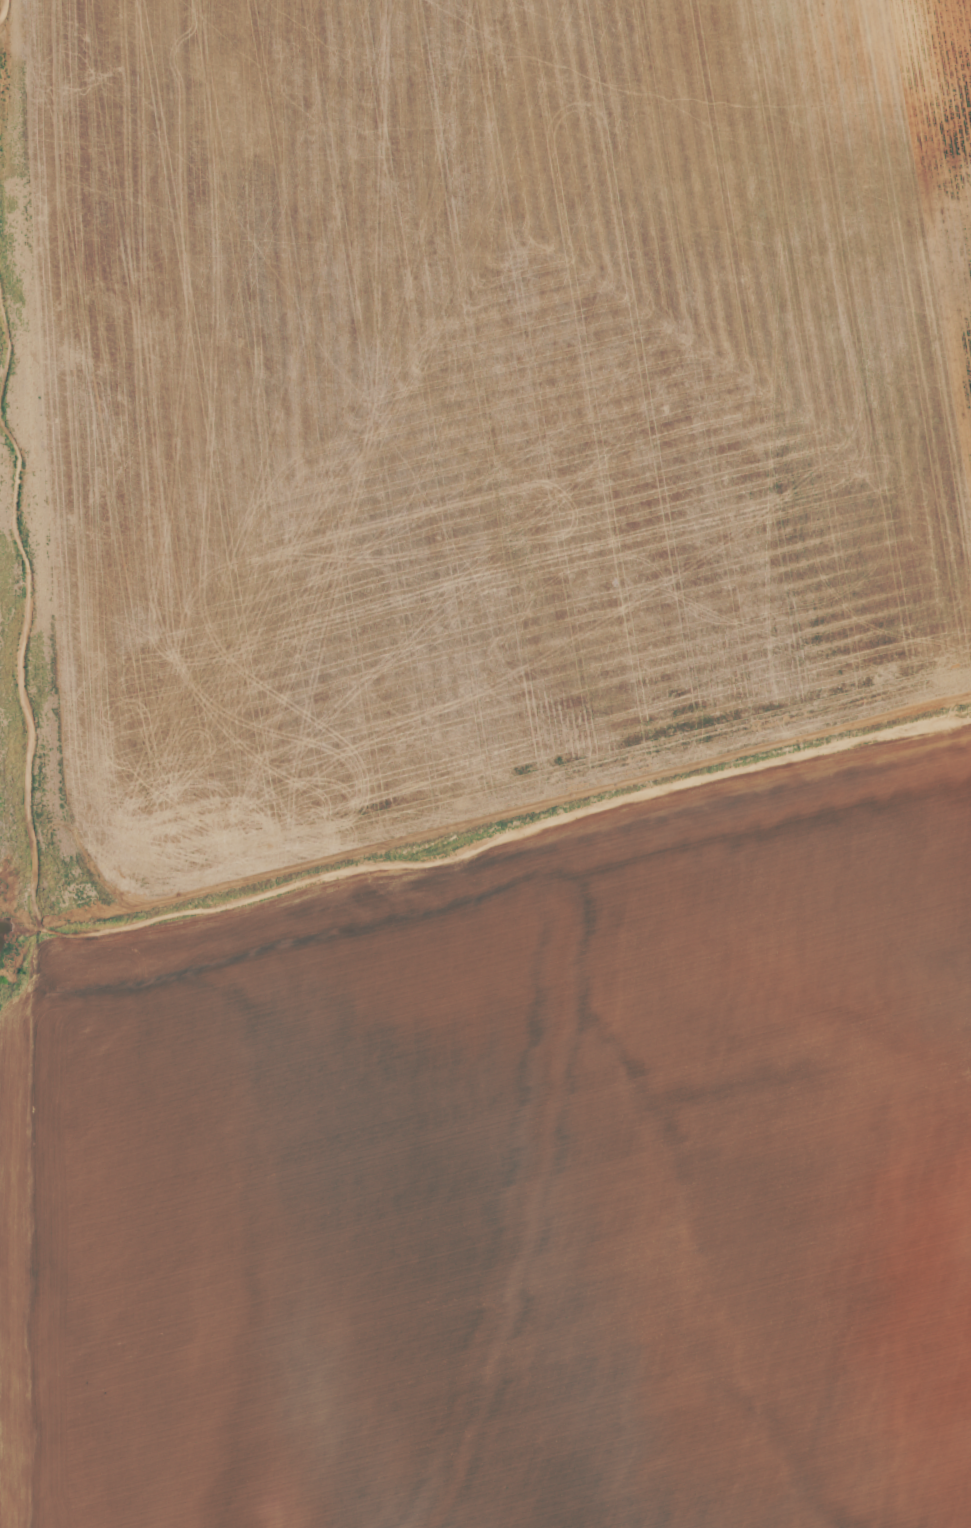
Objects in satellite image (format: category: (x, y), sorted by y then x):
road: (795, 367)

